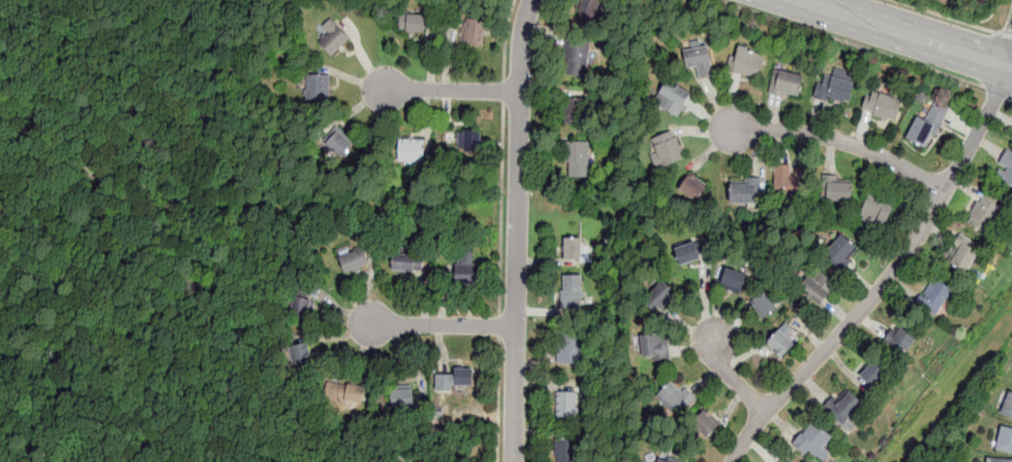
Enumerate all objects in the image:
building: (586, 10)
road: (944, 16)
building: (412, 23)
building: (345, 26)
building: (474, 32)
road: (909, 34)
road: (1005, 35)
building: (331, 38)
road: (506, 38)
road: (850, 43)
road: (1009, 57)
building: (576, 58)
building: (698, 61)
building: (746, 63)
building: (788, 84)
building: (317, 88)
road: (447, 90)
road: (504, 90)
building: (834, 90)
road: (997, 90)
building: (672, 100)
building: (882, 106)
building: (577, 111)
building: (926, 127)
building: (340, 138)
building: (468, 140)
road: (841, 140)
building: (668, 150)
building: (410, 153)
building: (578, 158)
building: (1005, 169)
building: (790, 181)
building: (691, 189)
building: (838, 191)
building: (743, 193)
park: (583, 204)
park: (346, 205)
road: (501, 208)
building: (876, 210)
building: (984, 214)
park: (135, 228)
road: (517, 230)
building: (573, 247)
road: (185, 249)
building: (688, 252)
building: (840, 253)
building: (961, 256)
building: (353, 258)
building: (407, 262)
building: (466, 269)
road: (888, 277)
building: (733, 280)
building: (819, 287)
building: (572, 292)
building: (661, 297)
building: (934, 297)
building: (764, 305)
building: (299, 307)
road: (443, 326)
road: (499, 326)
building: (904, 336)
building: (780, 345)
building: (570, 348)
building: (653, 351)
building: (300, 358)
building: (873, 372)
road: (733, 378)
building: (454, 379)
building: (346, 395)
building: (402, 397)
building: (675, 399)
road: (499, 400)
building: (566, 404)
building: (1007, 405)
building: (844, 408)
building: (711, 423)
building: (818, 439)
building: (1004, 439)
building: (566, 449)
building: (652, 460)
building: (663, 460)
building: (781, 460)
building: (996, 460)

